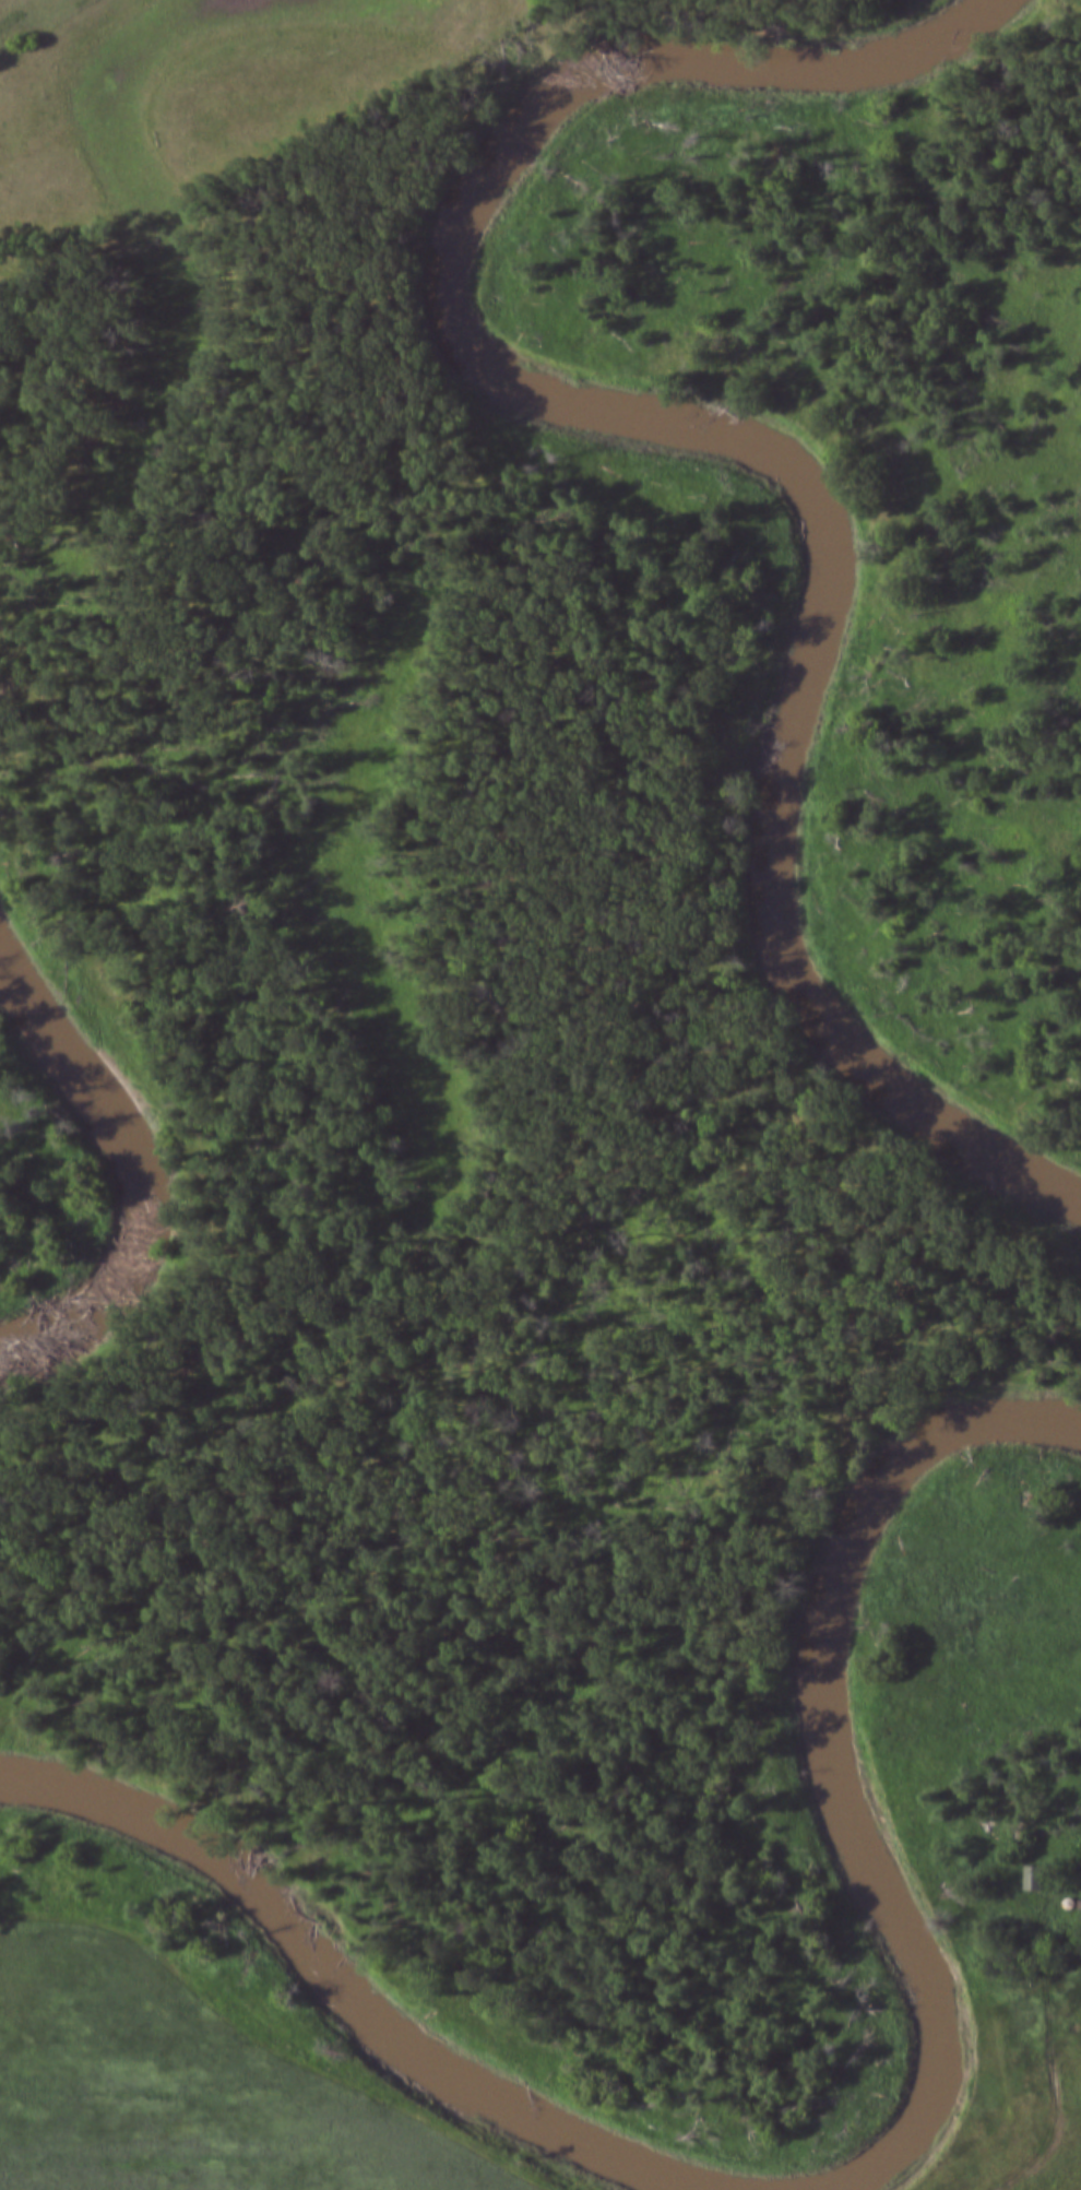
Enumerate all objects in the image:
river: (704, 434)
river: (134, 1164)
river: (842, 1751)
building: (1034, 1879)
river: (347, 1994)

